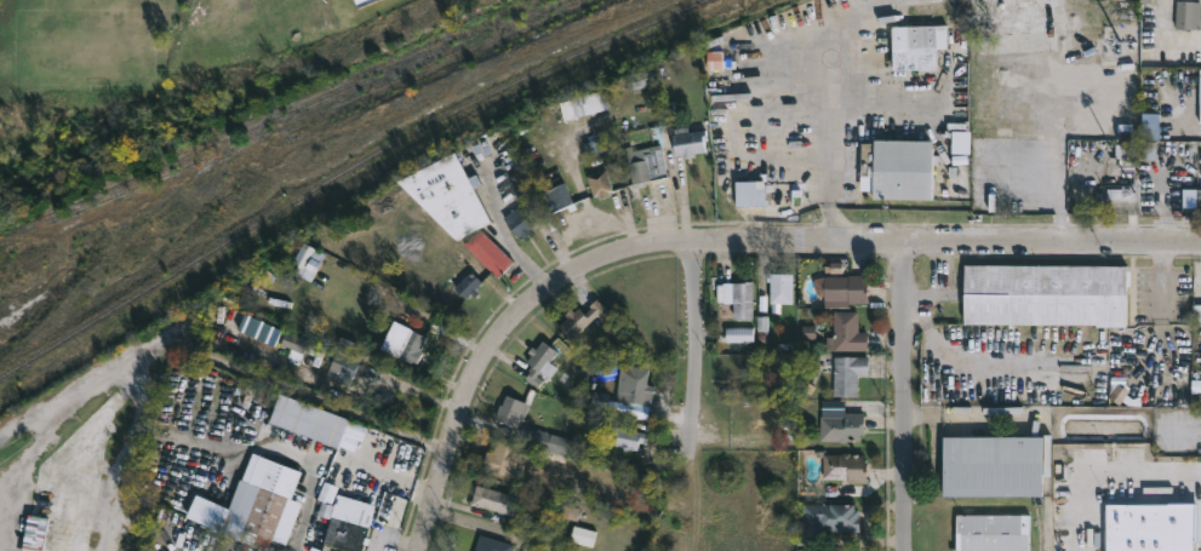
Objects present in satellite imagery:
building: (359, 1)
railway: (697, 5)
building: (1178, 15)
building: (1025, 44)
building: (915, 45)
building: (715, 62)
building: (642, 79)
building: (590, 103)
railway: (258, 110)
building: (1199, 111)
railway: (273, 114)
road: (841, 114)
road: (881, 115)
road: (1177, 116)
railway: (286, 119)
road: (1056, 121)
building: (688, 142)
building: (1012, 142)
building: (648, 155)
road: (568, 160)
building: (1123, 163)
building: (899, 168)
railway: (345, 172)
building: (599, 183)
building: (749, 194)
building: (557, 197)
building: (1085, 203)
building: (456, 207)
building: (1197, 208)
building: (517, 222)
road: (588, 228)
railway: (124, 236)
road: (1054, 245)
road: (520, 257)
building: (303, 262)
road: (578, 270)
building: (387, 271)
building: (470, 281)
building: (780, 288)
building: (841, 291)
building: (1045, 295)
building: (739, 298)
building: (1196, 314)
building: (581, 317)
building: (846, 333)
road: (696, 337)
building: (401, 343)
road: (200, 351)
building: (541, 355)
building: (344, 365)
building: (847, 374)
building: (636, 391)
road: (908, 397)
building: (508, 409)
building: (309, 421)
building: (841, 427)
building: (623, 436)
building: (503, 455)
building: (843, 466)
building: (993, 467)
road: (313, 478)
road: (1121, 488)
building: (268, 500)
building: (492, 504)
building: (831, 517)
building: (348, 522)
building: (1154, 530)
building: (991, 533)
road: (394, 535)
building: (491, 544)

